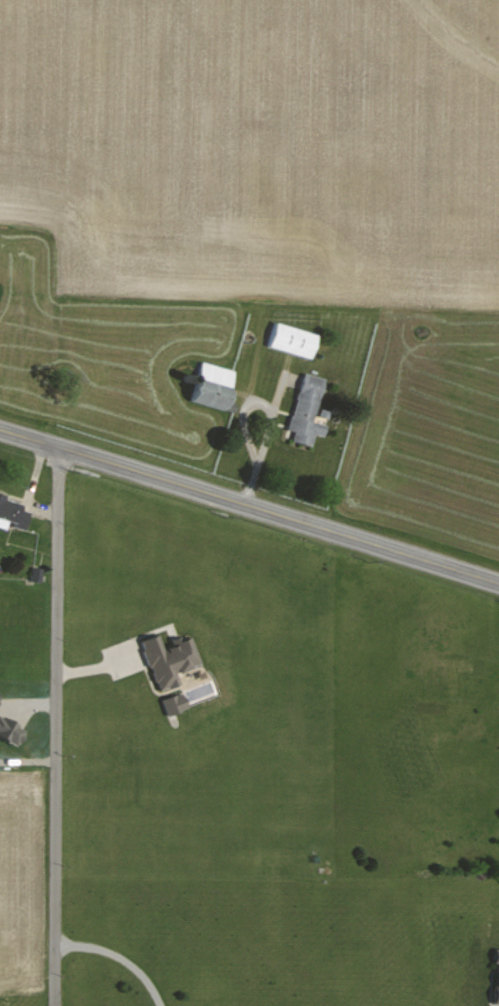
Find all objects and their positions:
building: (292, 340)
building: (213, 385)
building: (307, 410)
road: (249, 504)
building: (12, 513)
building: (169, 659)
building: (174, 704)
road: (54, 726)
building: (10, 730)
road: (115, 957)
building: (497, 978)

